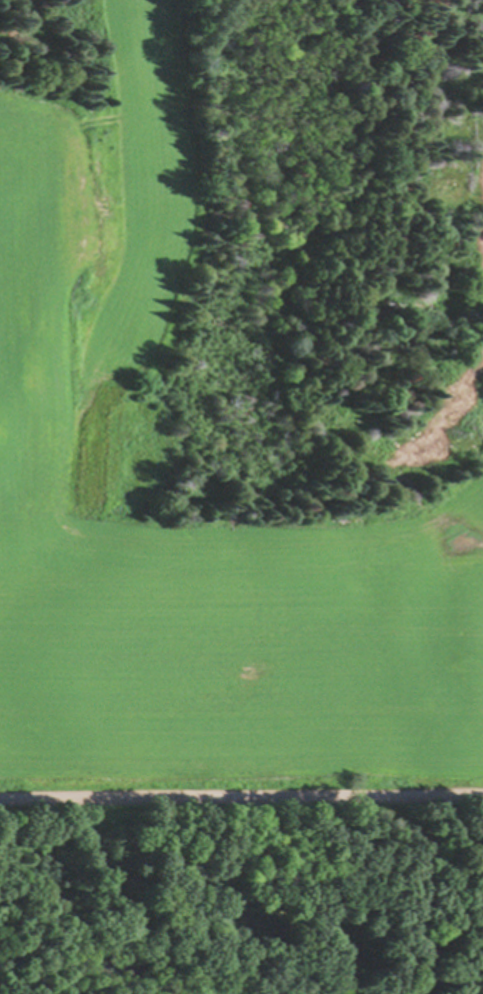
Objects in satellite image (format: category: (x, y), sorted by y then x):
road: (241, 797)

